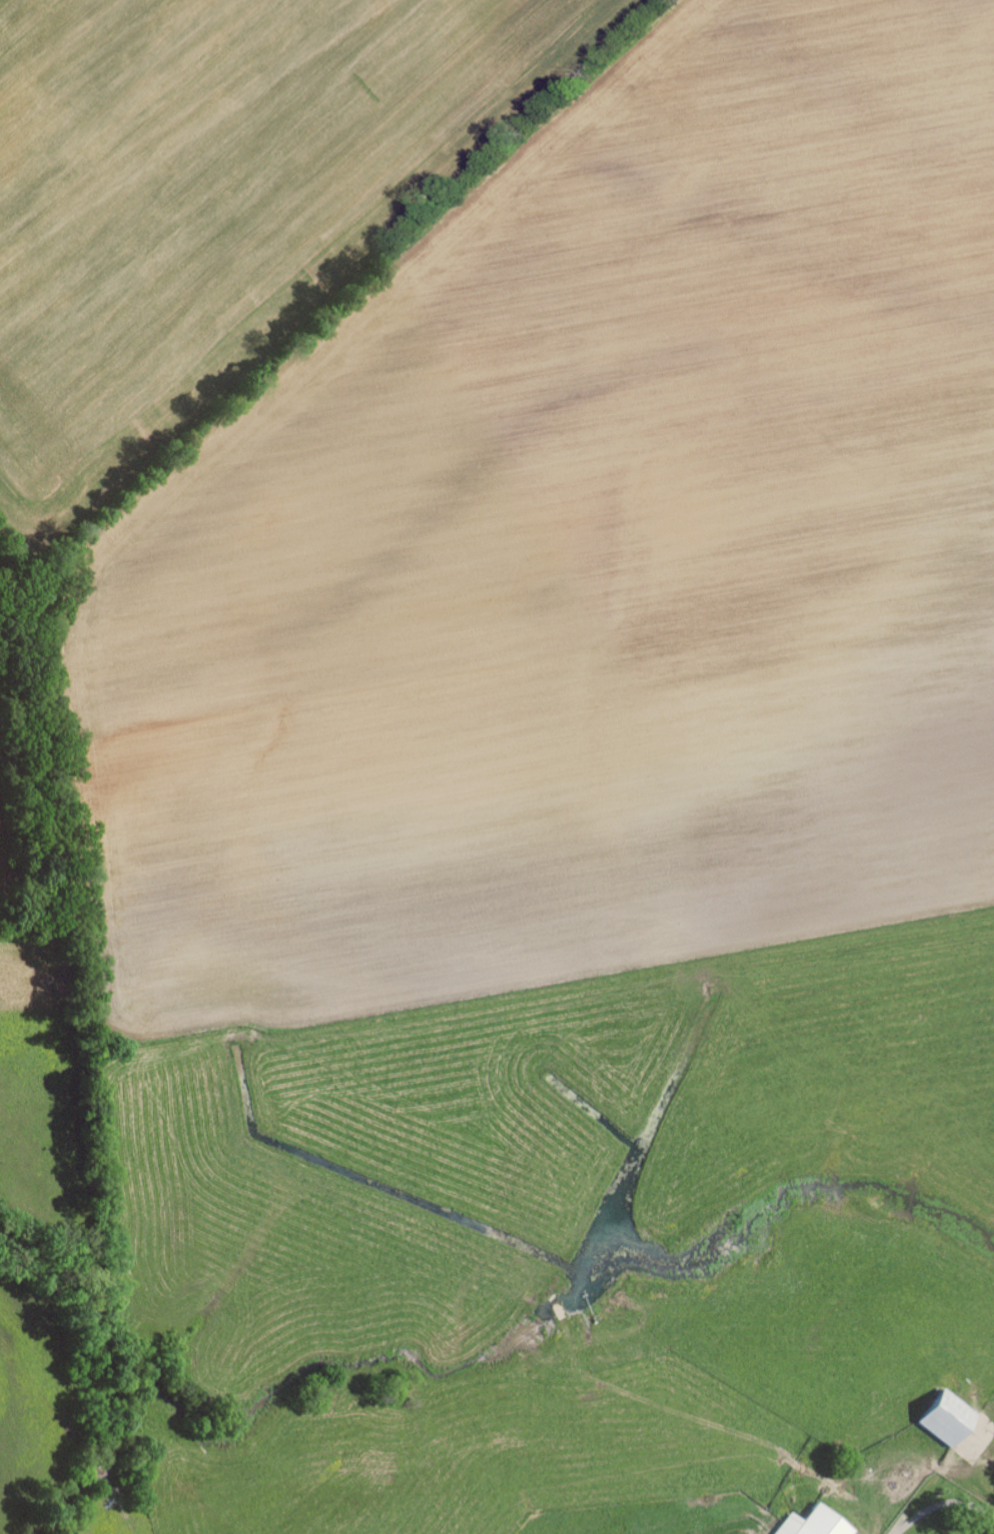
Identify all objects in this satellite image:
building: (947, 1418)
road: (941, 1504)
building: (813, 1523)

